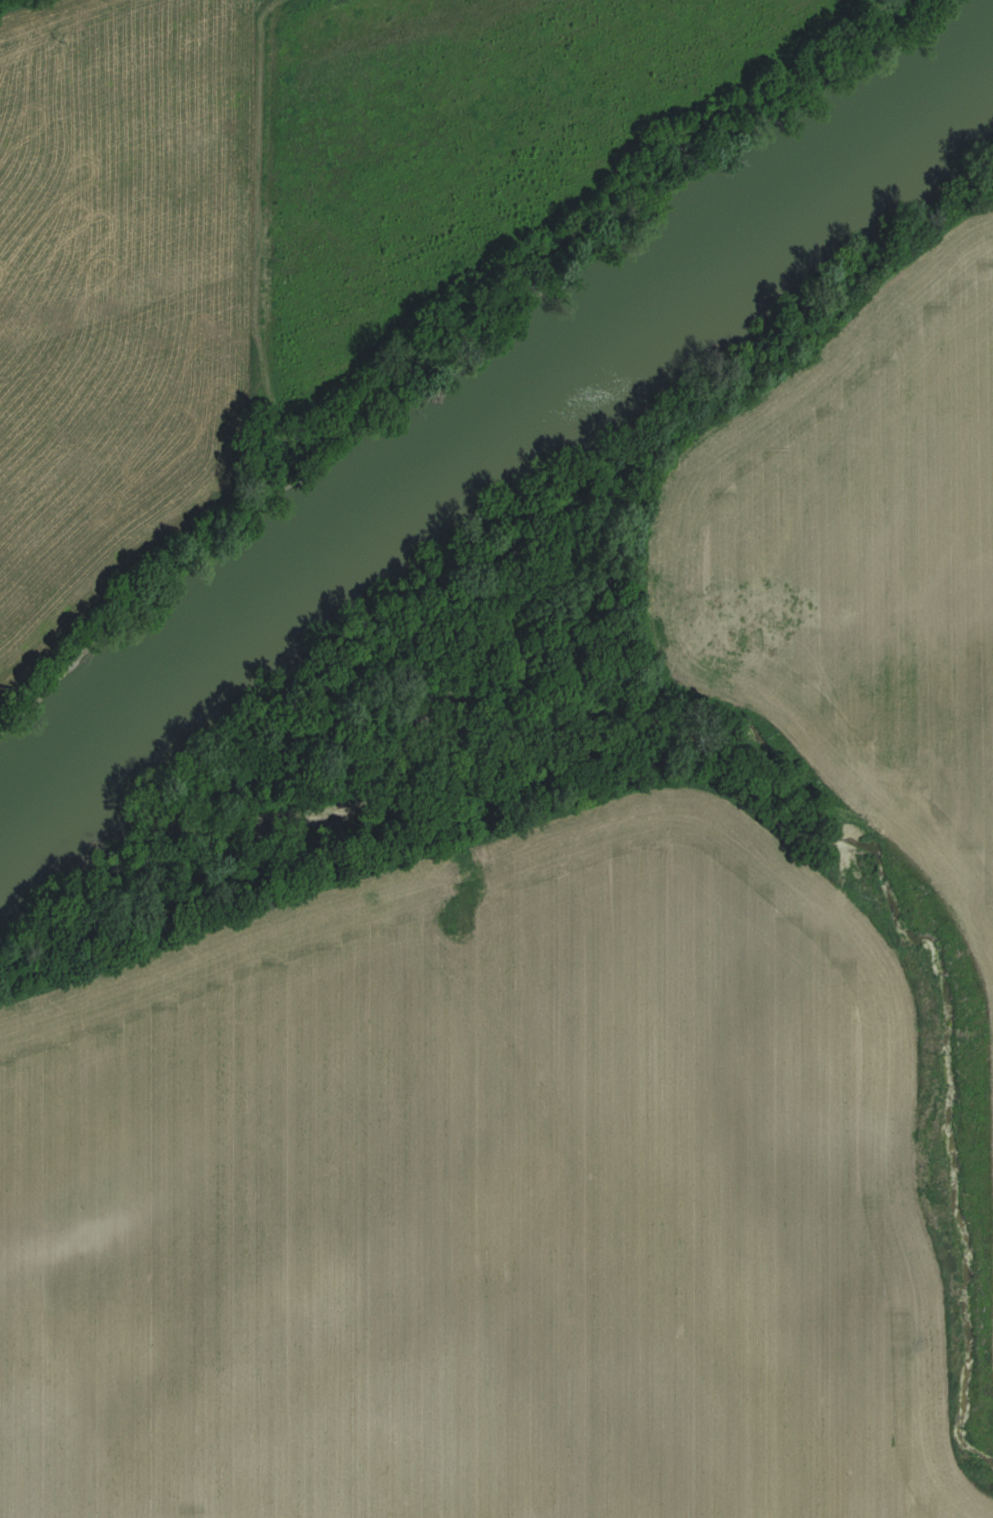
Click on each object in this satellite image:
crop: (136, 287)
river: (479, 416)
crop: (477, 1194)

